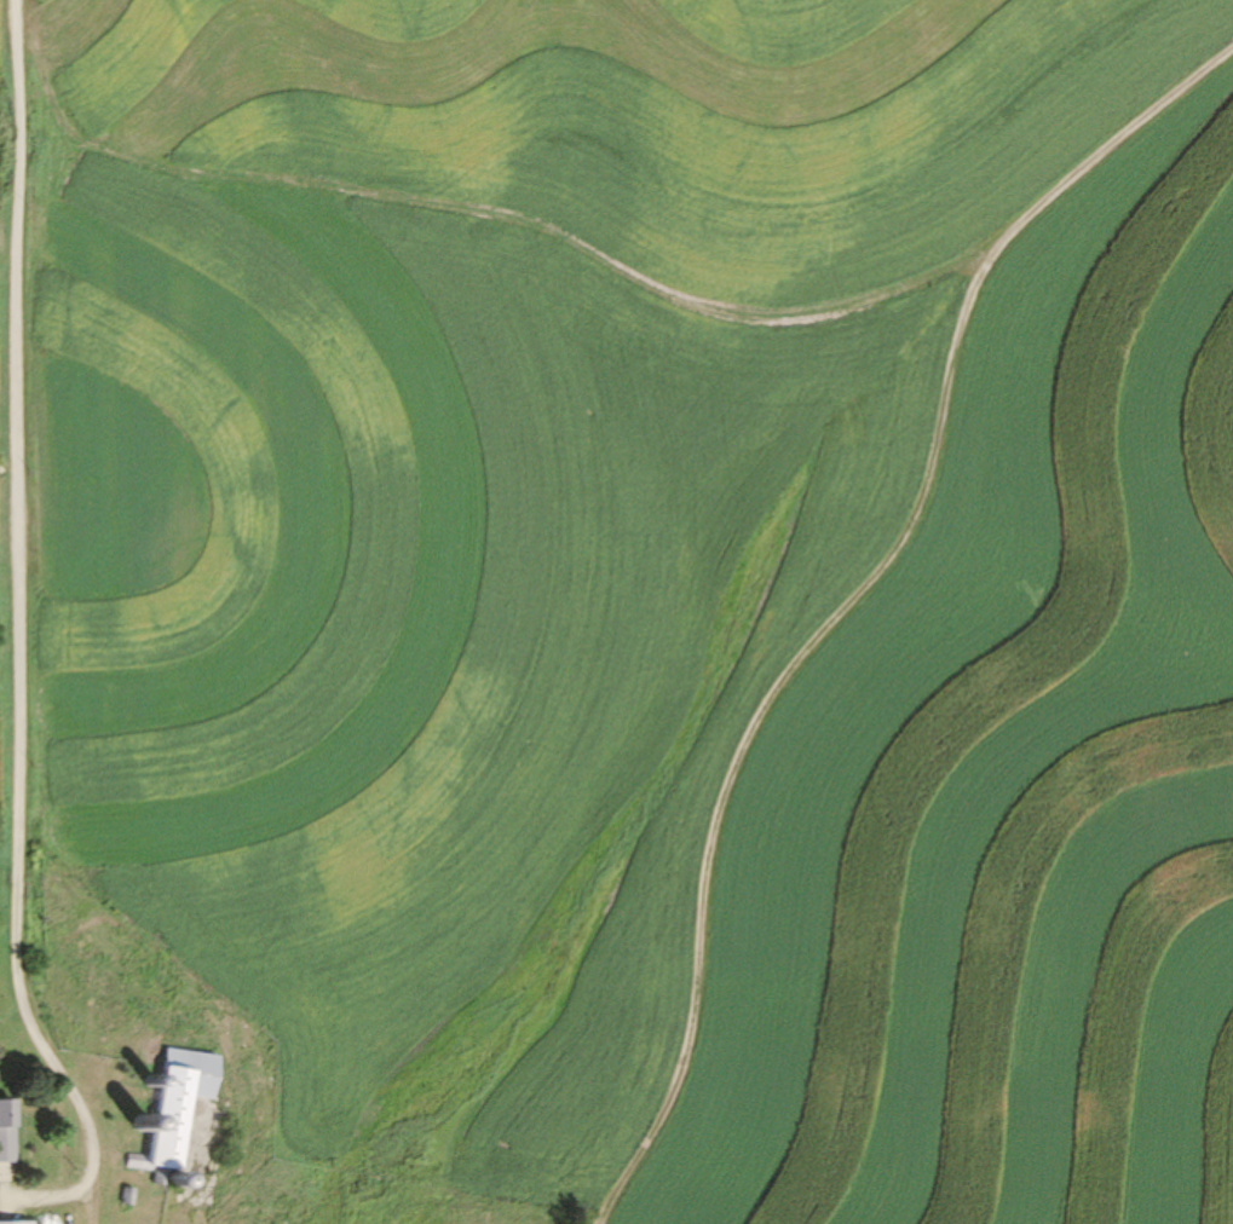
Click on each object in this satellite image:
road: (17, 548)
road: (849, 595)
building: (169, 1104)
building: (2, 1131)
building: (13, 1223)

